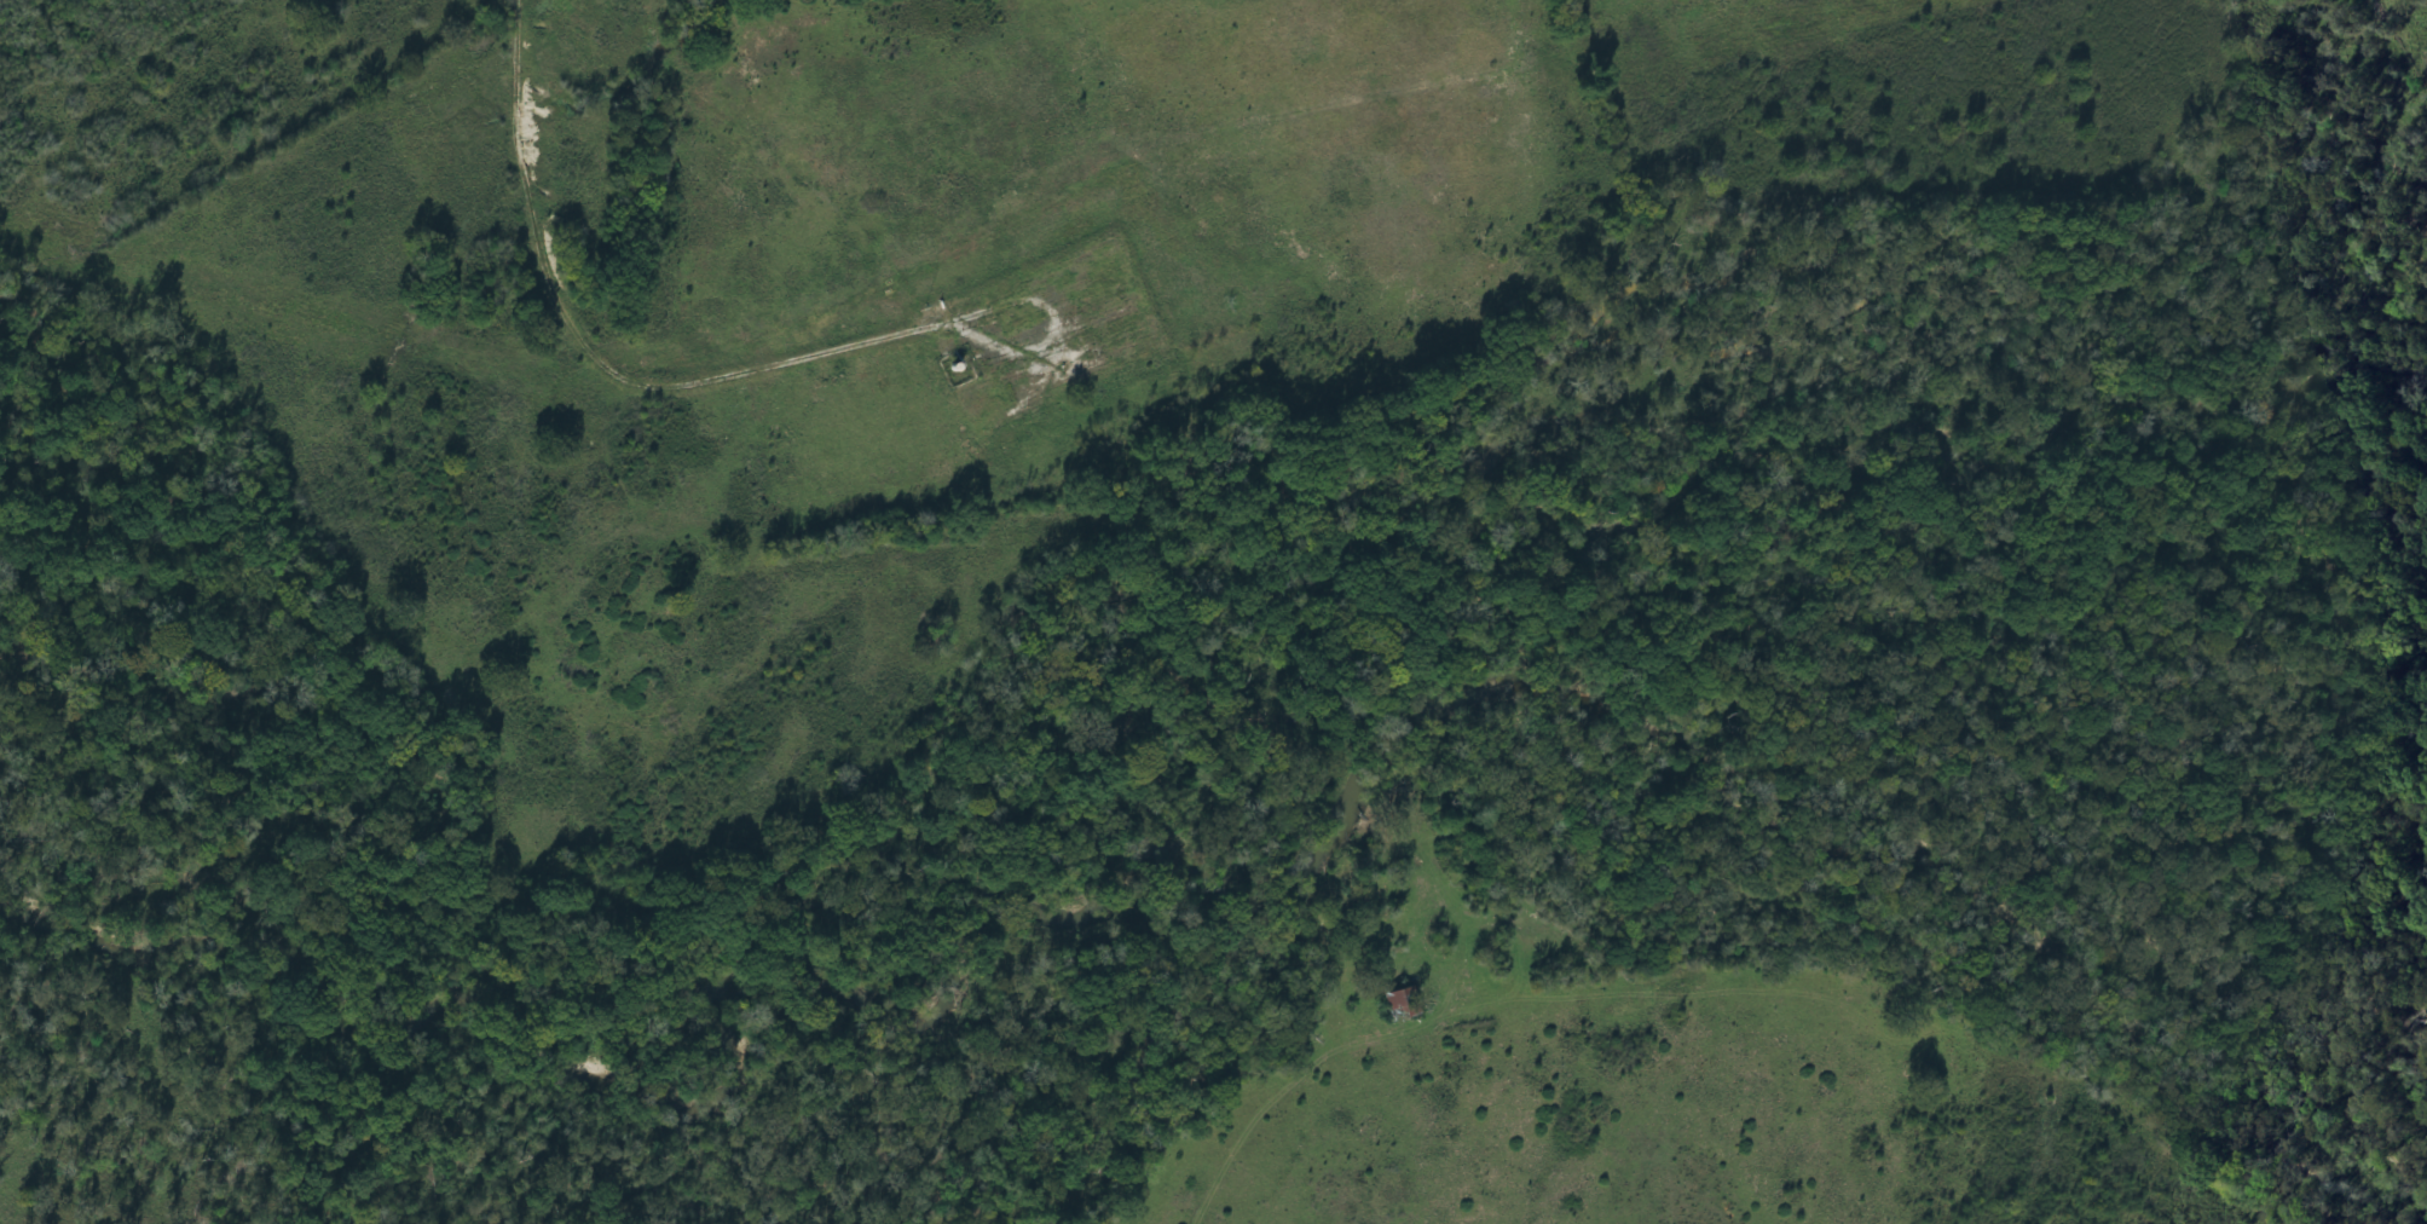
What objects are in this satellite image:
road: (1239, 1141)

